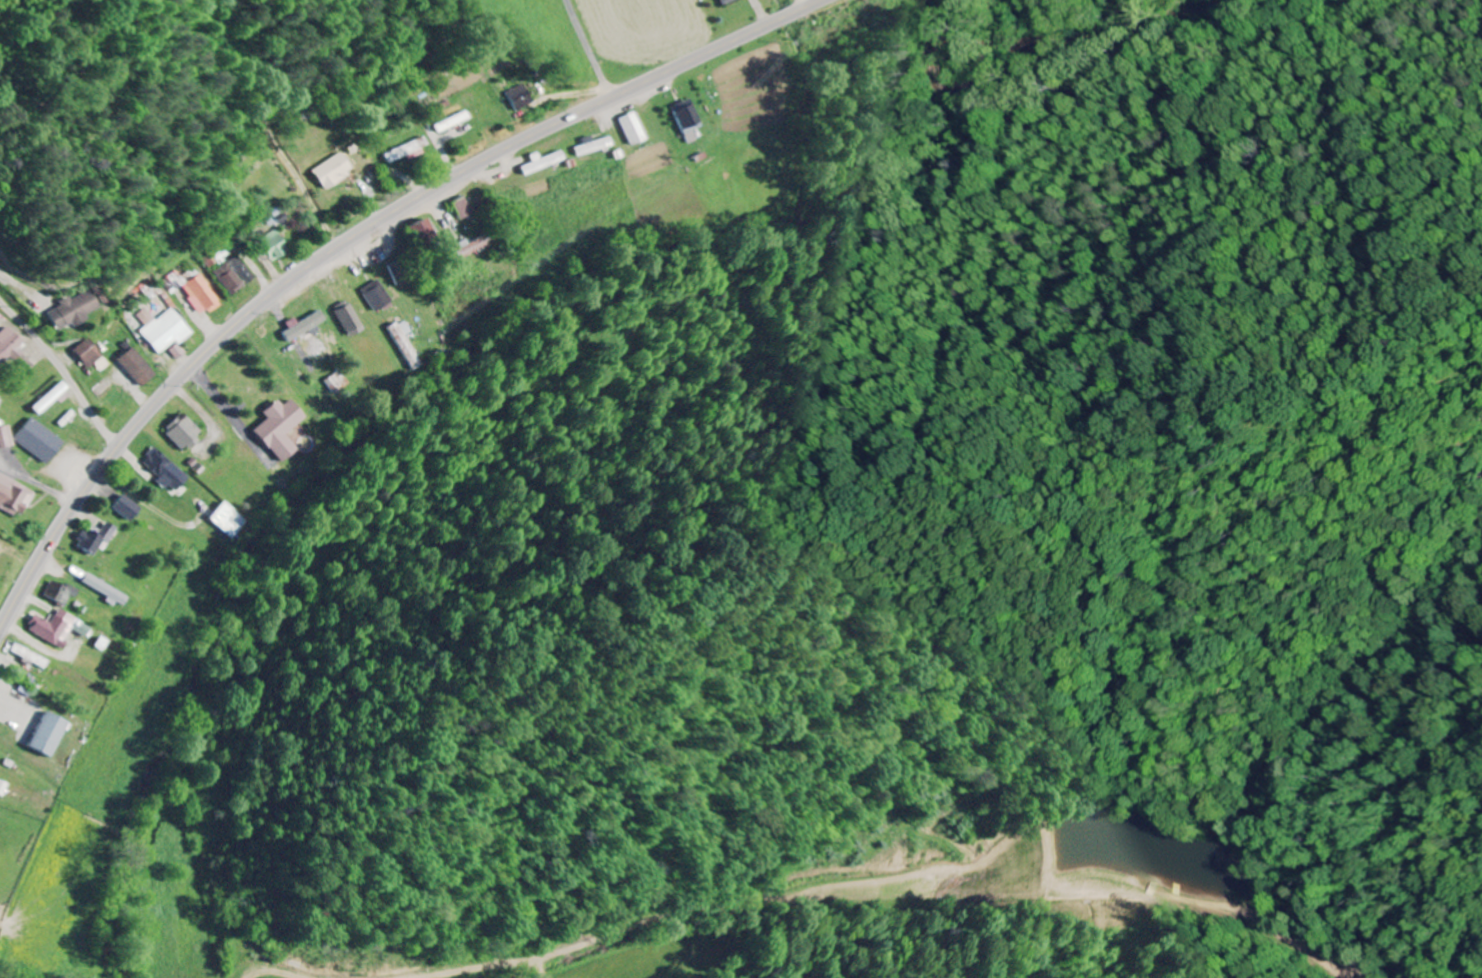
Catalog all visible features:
building: (728, 1)
road: (810, 2)
building: (519, 97)
road: (283, 100)
building: (690, 119)
building: (634, 128)
building: (333, 171)
building: (463, 208)
building: (424, 230)
road: (348, 242)
building: (274, 245)
building: (467, 249)
building: (244, 269)
building: (231, 277)
building: (201, 293)
building: (378, 295)
building: (73, 310)
building: (350, 318)
building: (306, 326)
building: (166, 330)
building: (317, 344)
building: (9, 346)
road: (169, 346)
building: (89, 353)
building: (138, 367)
road: (64, 369)
building: (339, 382)
building: (52, 398)
building: (0, 400)
building: (280, 428)
building: (185, 433)
building: (7, 437)
building: (42, 440)
building: (167, 470)
building: (15, 495)
building: (128, 508)
building: (229, 520)
building: (97, 538)
building: (108, 591)
building: (63, 592)
building: (60, 628)
building: (32, 656)
building: (49, 735)
building: (4, 788)

